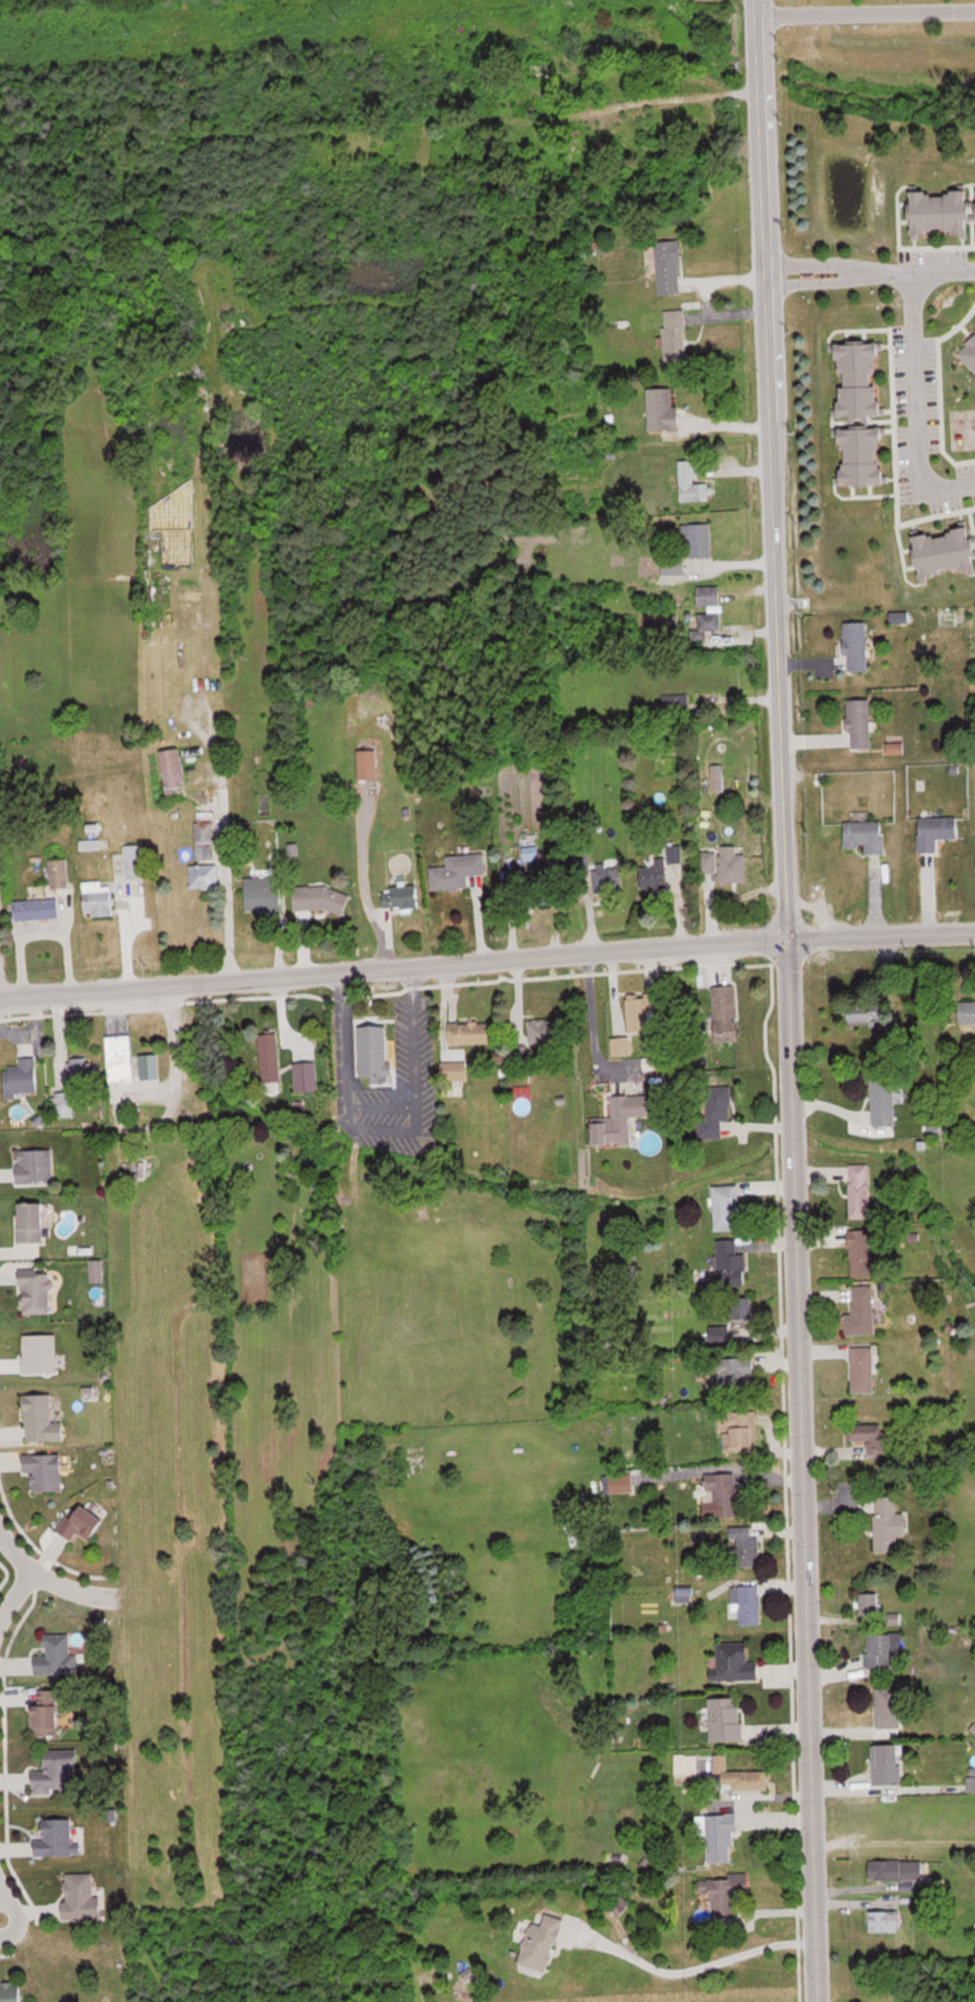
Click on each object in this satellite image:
power tower: (551, 1)
power tower: (338, 17)
road: (868, 22)
power tower: (130, 31)
building: (942, 211)
building: (669, 267)
road: (871, 278)
building: (675, 336)
building: (969, 352)
building: (860, 380)
road: (913, 385)
building: (662, 409)
building: (863, 455)
road: (771, 468)
building: (691, 482)
road: (945, 488)
building: (699, 545)
building: (945, 551)
building: (673, 564)
building: (707, 595)
building: (705, 625)
building: (857, 646)
building: (675, 703)
building: (860, 723)
building: (367, 764)
building: (173, 771)
building: (717, 782)
building: (936, 831)
building: (866, 835)
building: (203, 840)
building: (674, 853)
building: (131, 860)
building: (725, 864)
building: (457, 870)
building: (58, 872)
building: (203, 875)
building: (654, 875)
building: (608, 878)
road: (223, 887)
building: (548, 887)
building: (262, 894)
building: (97, 898)
building: (400, 898)
building: (320, 899)
building: (36, 908)
road: (123, 929)
road: (487, 959)
building: (967, 1011)
building: (642, 1012)
building: (725, 1014)
building: (869, 1016)
road: (589, 1021)
building: (544, 1031)
building: (471, 1033)
road: (172, 1037)
building: (374, 1054)
building: (269, 1057)
building: (119, 1058)
building: (650, 1063)
building: (22, 1071)
building: (454, 1071)
building: (305, 1077)
building: (883, 1101)
building: (60, 1104)
road: (380, 1109)
building: (715, 1112)
building: (620, 1120)
road: (385, 1130)
building: (34, 1166)
building: (859, 1191)
building: (726, 1208)
building: (31, 1223)
building: (861, 1253)
building: (731, 1264)
building: (36, 1293)
building: (741, 1308)
building: (862, 1312)
building: (719, 1334)
building: (862, 1370)
building: (730, 1375)
building: (41, 1420)
building: (738, 1431)
building: (870, 1437)
road: (792, 1470)
building: (44, 1471)
building: (620, 1483)
building: (724, 1495)
building: (887, 1523)
building: (81, 1524)
building: (746, 1548)
road: (42, 1578)
road: (14, 1599)
building: (745, 1604)
building: (869, 1604)
building: (891, 1618)
building: (882, 1650)
building: (55, 1655)
building: (734, 1662)
building: (888, 1707)
building: (45, 1714)
building: (725, 1719)
building: (887, 1764)
building: (685, 1767)
building: (56, 1774)
building: (740, 1776)
building: (719, 1836)
building: (57, 1840)
building: (898, 1870)
building: (722, 1893)
building: (81, 1898)
road: (0, 1917)
building: (884, 1922)
building: (541, 1944)
road: (687, 1976)

